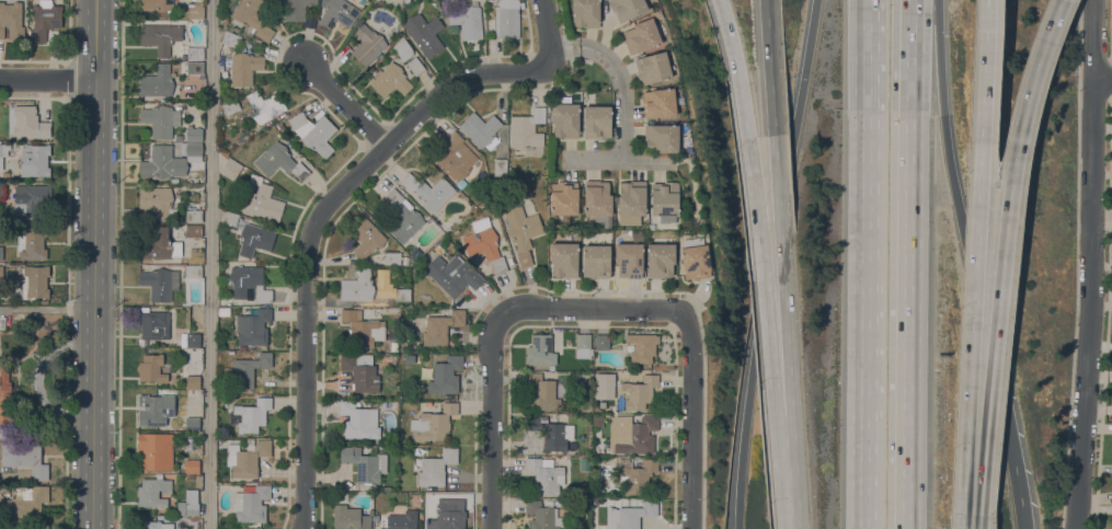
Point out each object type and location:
building: (406, 0)
building: (272, 1)
road: (1061, 1)
building: (158, 7)
building: (627, 8)
building: (296, 9)
building: (195, 10)
building: (337, 12)
building: (585, 13)
road: (912, 13)
building: (252, 18)
building: (45, 19)
building: (506, 19)
building: (11, 20)
building: (467, 20)
building: (310, 21)
building: (424, 33)
road: (548, 34)
building: (641, 35)
building: (160, 36)
building: (231, 39)
building: (368, 45)
building: (403, 48)
road: (562, 48)
building: (195, 53)
road: (806, 64)
building: (415, 65)
building: (195, 67)
building: (244, 67)
building: (653, 67)
road: (736, 68)
road: (927, 70)
road: (493, 73)
road: (1103, 78)
building: (390, 79)
road: (48, 80)
building: (157, 81)
road: (623, 89)
road: (983, 91)
road: (1028, 91)
building: (658, 102)
building: (265, 105)
road: (346, 105)
building: (231, 106)
building: (160, 119)
building: (564, 119)
road: (412, 120)
building: (27, 122)
building: (597, 122)
building: (527, 128)
building: (481, 129)
building: (313, 133)
building: (193, 134)
building: (662, 137)
building: (3, 151)
building: (192, 151)
building: (456, 156)
building: (35, 160)
building: (162, 161)
building: (279, 161)
road: (620, 162)
building: (500, 166)
building: (231, 169)
building: (5, 175)
building: (317, 176)
building: (174, 180)
building: (310, 184)
building: (1, 189)
building: (429, 191)
building: (632, 197)
building: (31, 198)
building: (564, 198)
building: (261, 200)
building: (598, 200)
building: (665, 200)
building: (158, 202)
road: (779, 208)
building: (192, 216)
building: (403, 216)
building: (229, 217)
building: (629, 220)
building: (651, 226)
building: (193, 230)
building: (523, 231)
building: (367, 237)
building: (255, 239)
building: (34, 242)
building: (159, 244)
building: (484, 245)
building: (438, 249)
building: (1, 252)
building: (416, 253)
building: (392, 257)
building: (564, 258)
building: (629, 258)
building: (695, 258)
building: (660, 260)
building: (509, 261)
building: (596, 261)
road: (94, 264)
road: (213, 264)
road: (864, 264)
road: (1091, 264)
building: (1, 271)
building: (193, 271)
building: (452, 274)
road: (770, 277)
road: (909, 277)
building: (33, 280)
building: (248, 281)
building: (159, 283)
building: (379, 285)
building: (357, 286)
road: (975, 289)
building: (402, 295)
building: (223, 311)
building: (1, 322)
road: (307, 323)
building: (152, 325)
building: (405, 326)
building: (442, 326)
building: (253, 327)
building: (362, 327)
road: (496, 331)
road: (976, 332)
road: (991, 333)
building: (193, 340)
building: (601, 342)
building: (403, 345)
building: (583, 345)
building: (394, 346)
building: (642, 346)
building: (540, 349)
building: (389, 359)
building: (151, 368)
building: (248, 370)
building: (360, 371)
building: (445, 375)
building: (192, 381)
building: (603, 384)
building: (542, 392)
building: (639, 392)
building: (4, 401)
building: (382, 403)
building: (154, 409)
building: (252, 415)
building: (359, 421)
road: (691, 422)
building: (192, 423)
building: (433, 423)
building: (551, 433)
building: (635, 433)
building: (154, 451)
road: (743, 451)
building: (24, 458)
building: (247, 458)
road: (795, 459)
building: (584, 463)
building: (365, 464)
building: (192, 465)
building: (436, 467)
building: (635, 474)
building: (191, 475)
building: (546, 475)
building: (198, 481)
building: (153, 491)
road: (1016, 496)
building: (633, 501)
building: (188, 503)
building: (251, 503)
building: (24, 504)
road: (972, 505)
building: (540, 515)
building: (631, 515)
road: (799, 516)
building: (349, 517)
building: (446, 518)
building: (402, 520)
building: (156, 525)
building: (34, 528)

